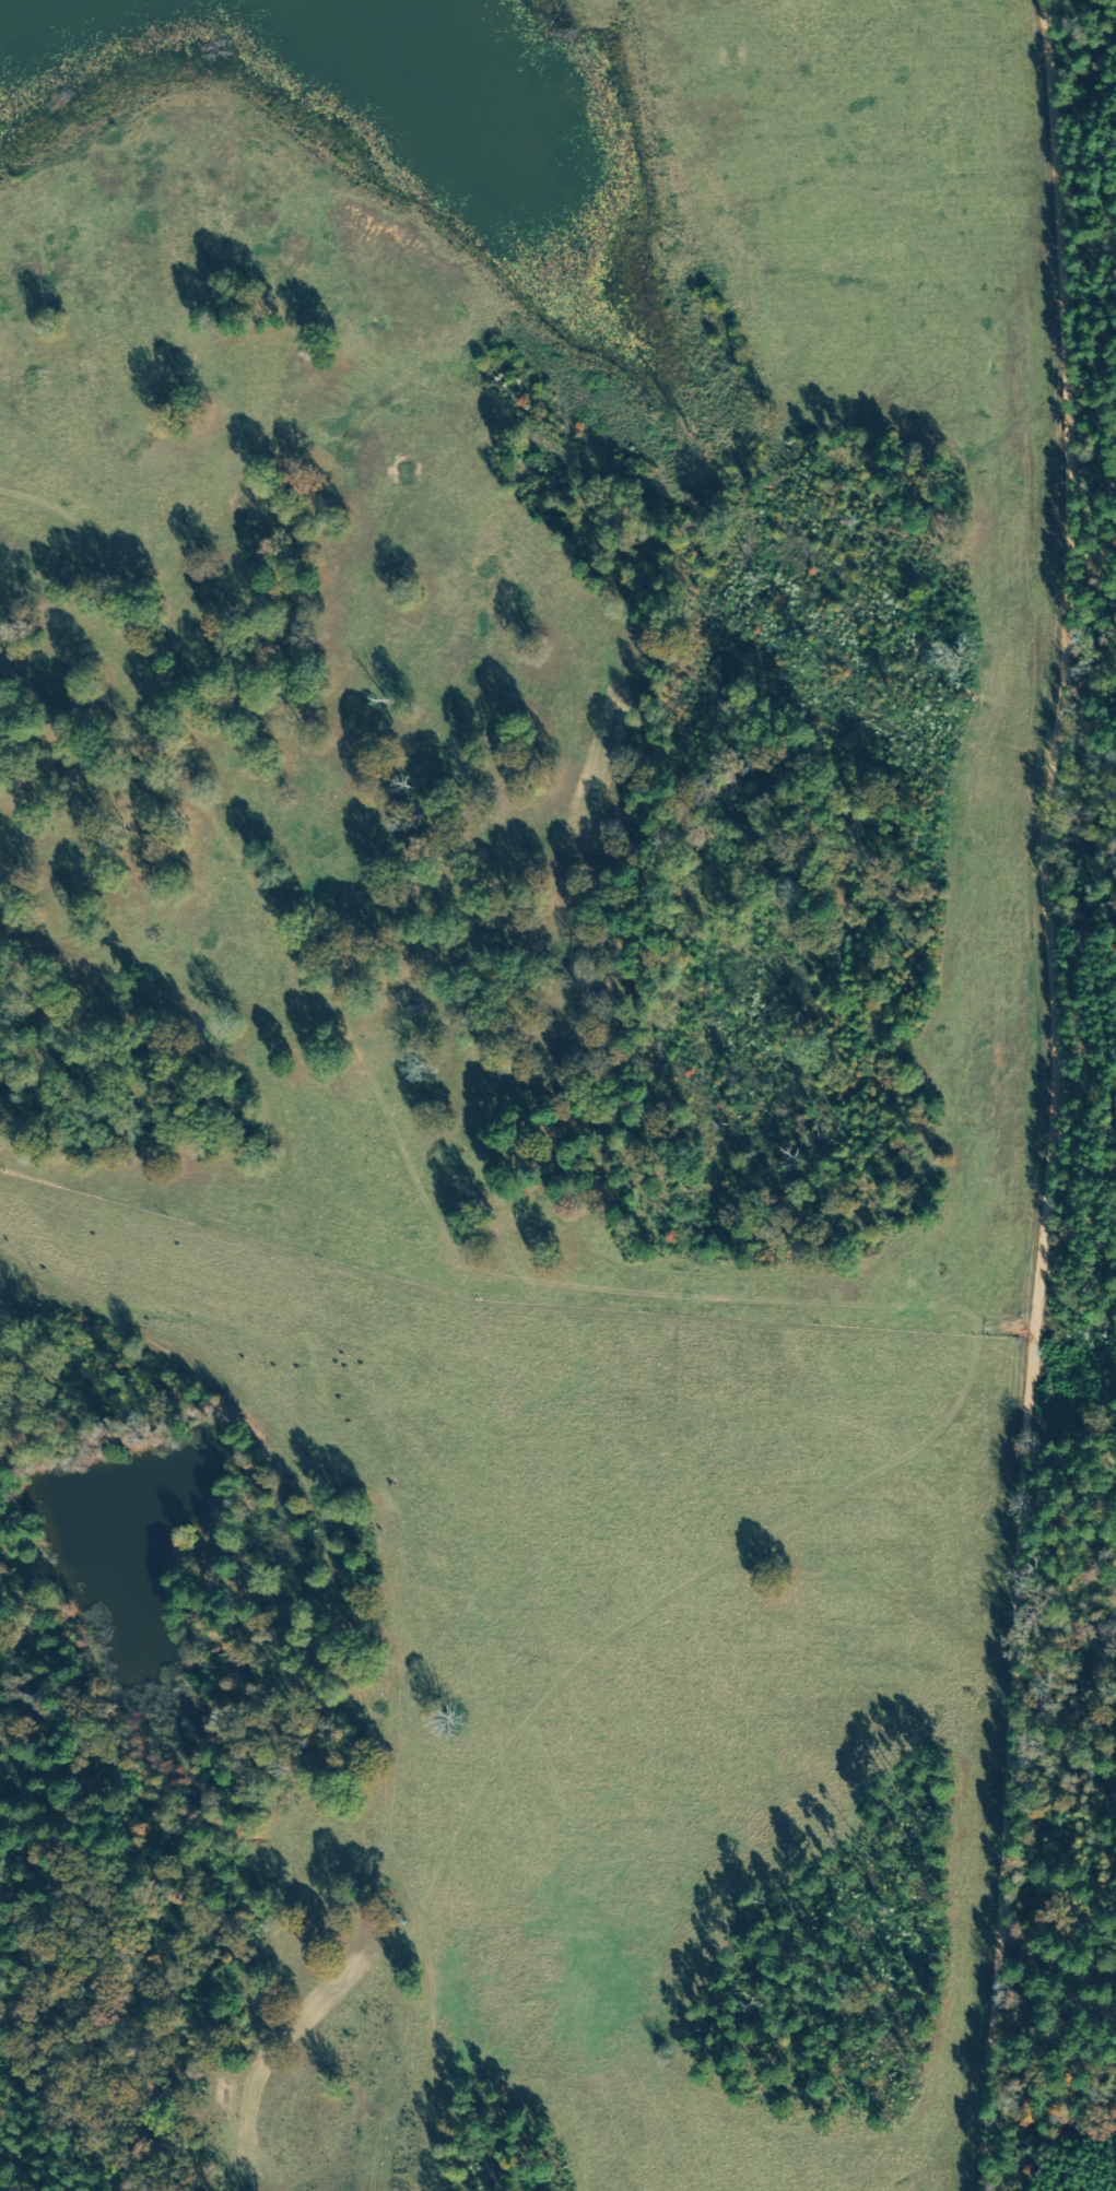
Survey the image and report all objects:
road: (1061, 1095)
road: (1072, 1402)
road: (1057, 1955)

